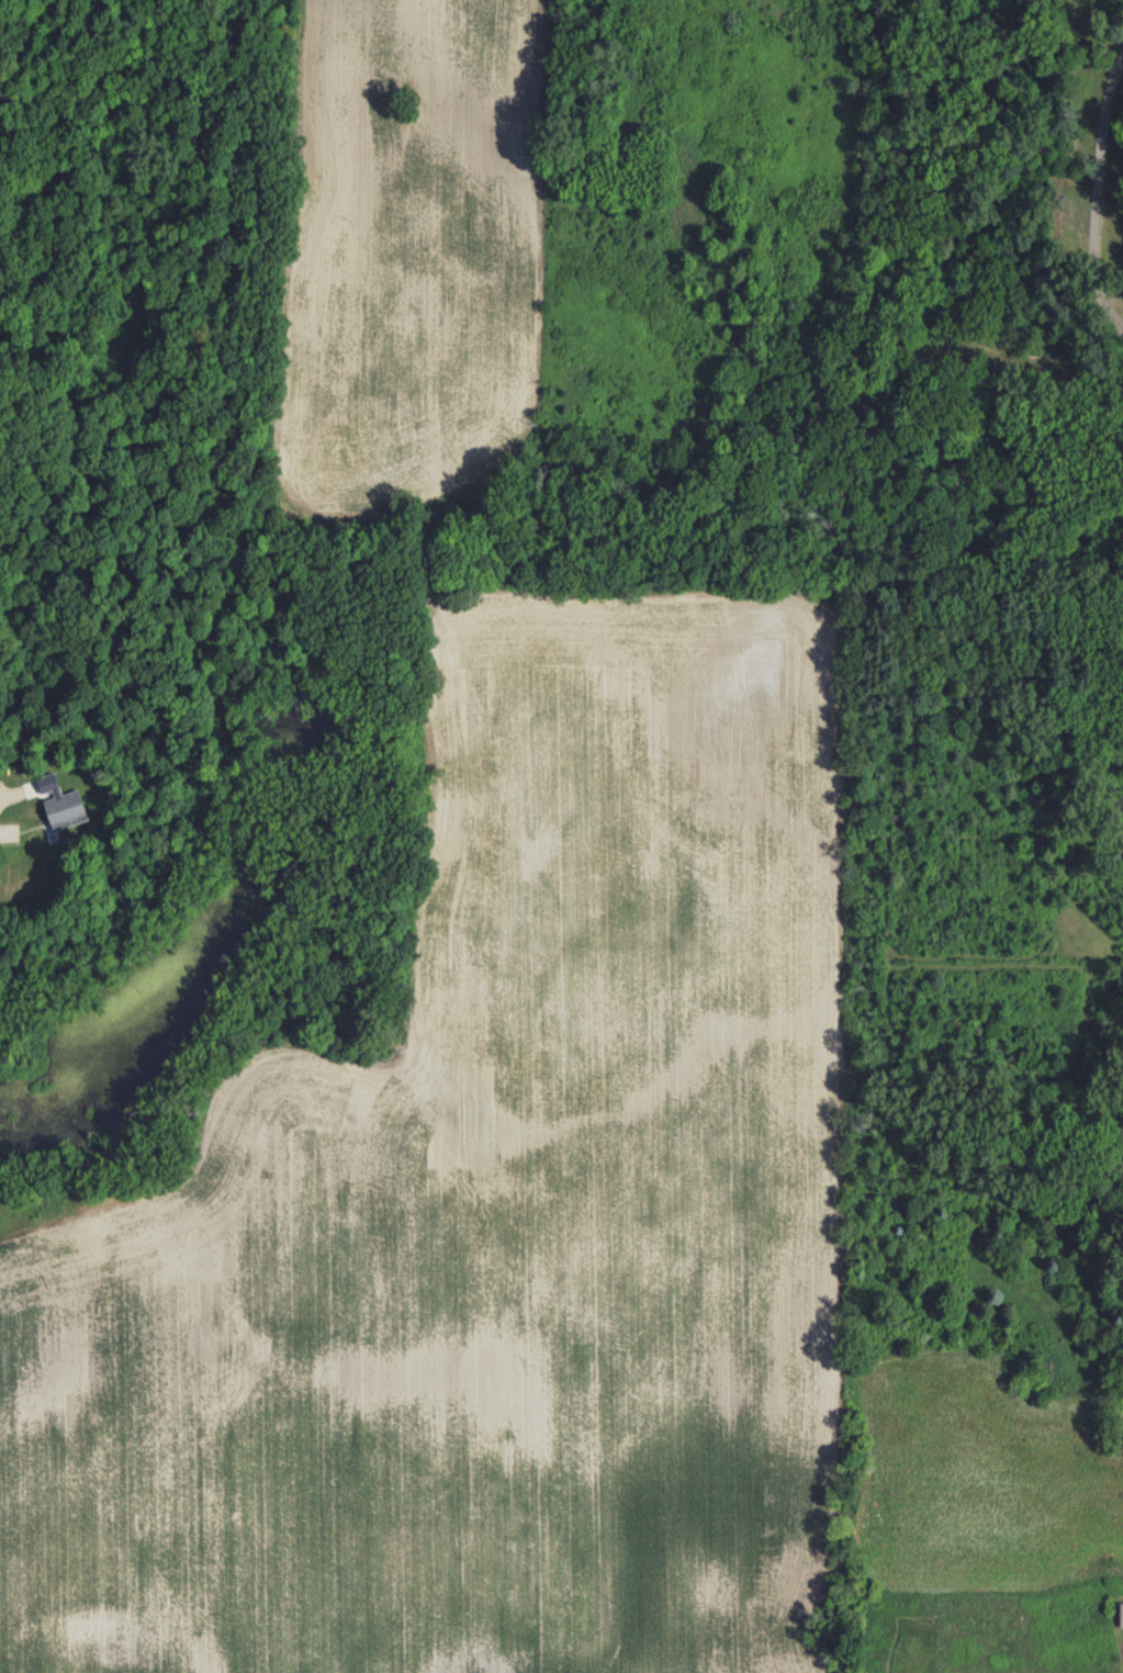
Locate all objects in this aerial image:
road: (1100, 192)
building: (66, 810)
road: (1, 831)
crop: (564, 1260)
building: (1121, 1615)

